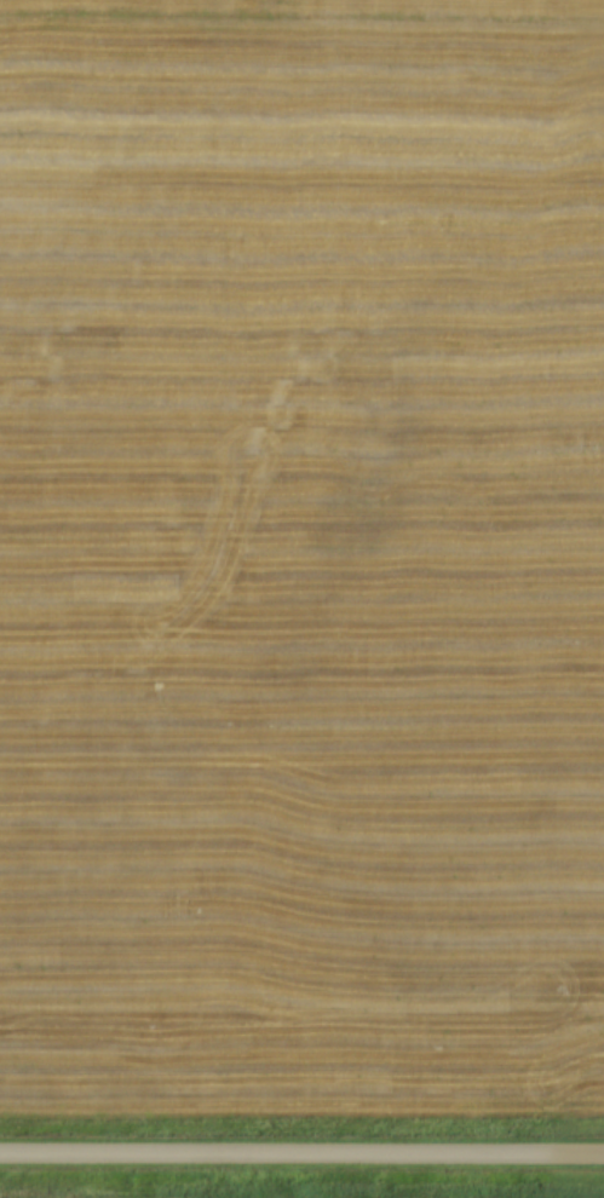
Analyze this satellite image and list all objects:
road: (301, 1151)

